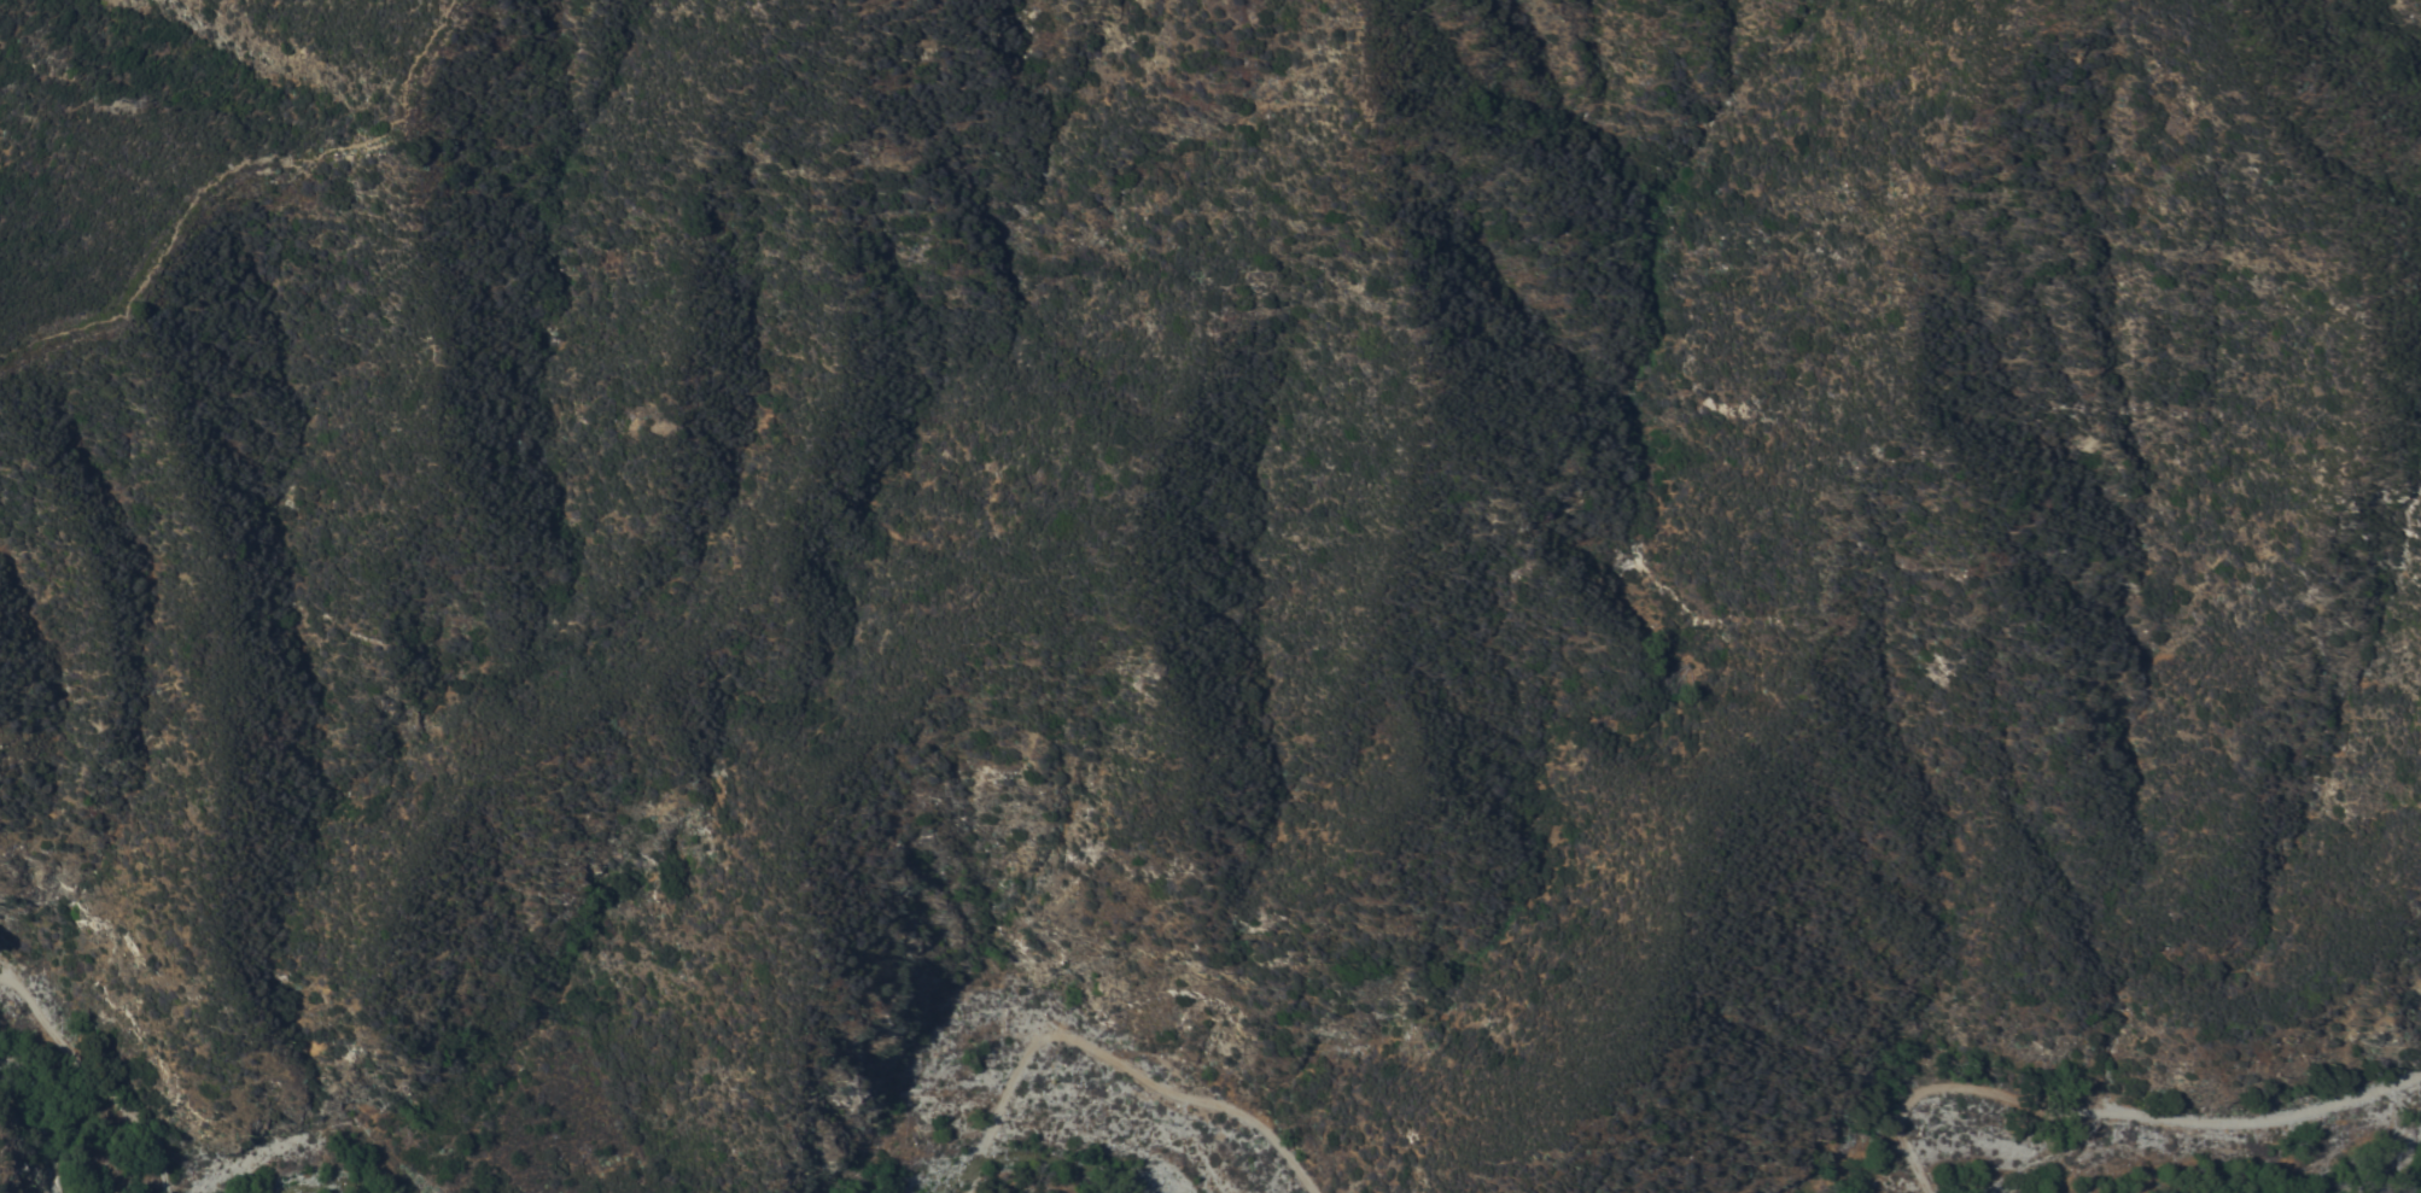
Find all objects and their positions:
road: (1106, 1065)
road: (93, 1084)
road: (2124, 1124)

